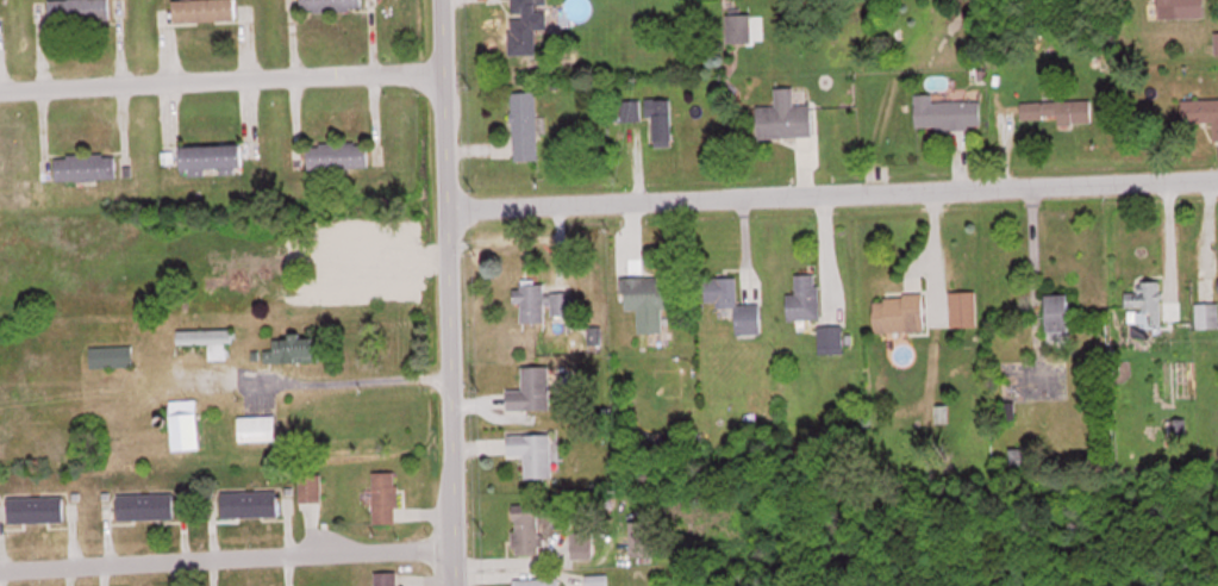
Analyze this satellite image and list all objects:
building: (332, 5)
building: (1178, 8)
building: (80, 10)
building: (205, 10)
building: (524, 25)
building: (739, 26)
building: (1216, 42)
road: (218, 77)
building: (1056, 111)
building: (1203, 111)
building: (947, 112)
building: (785, 116)
building: (662, 121)
building: (524, 125)
building: (338, 155)
building: (212, 157)
building: (86, 166)
road: (830, 188)
road: (444, 292)
building: (805, 297)
building: (1147, 298)
building: (650, 299)
building: (544, 303)
building: (733, 303)
building: (963, 307)
building: (900, 312)
building: (1060, 314)
building: (1206, 314)
building: (208, 338)
building: (831, 338)
building: (294, 349)
building: (111, 355)
building: (531, 389)
building: (187, 424)
building: (257, 428)
building: (533, 451)
building: (311, 487)
building: (385, 497)
building: (250, 503)
building: (145, 505)
building: (36, 509)
building: (525, 528)
building: (645, 537)
road: (225, 555)
building: (387, 578)
building: (598, 579)
building: (537, 581)

